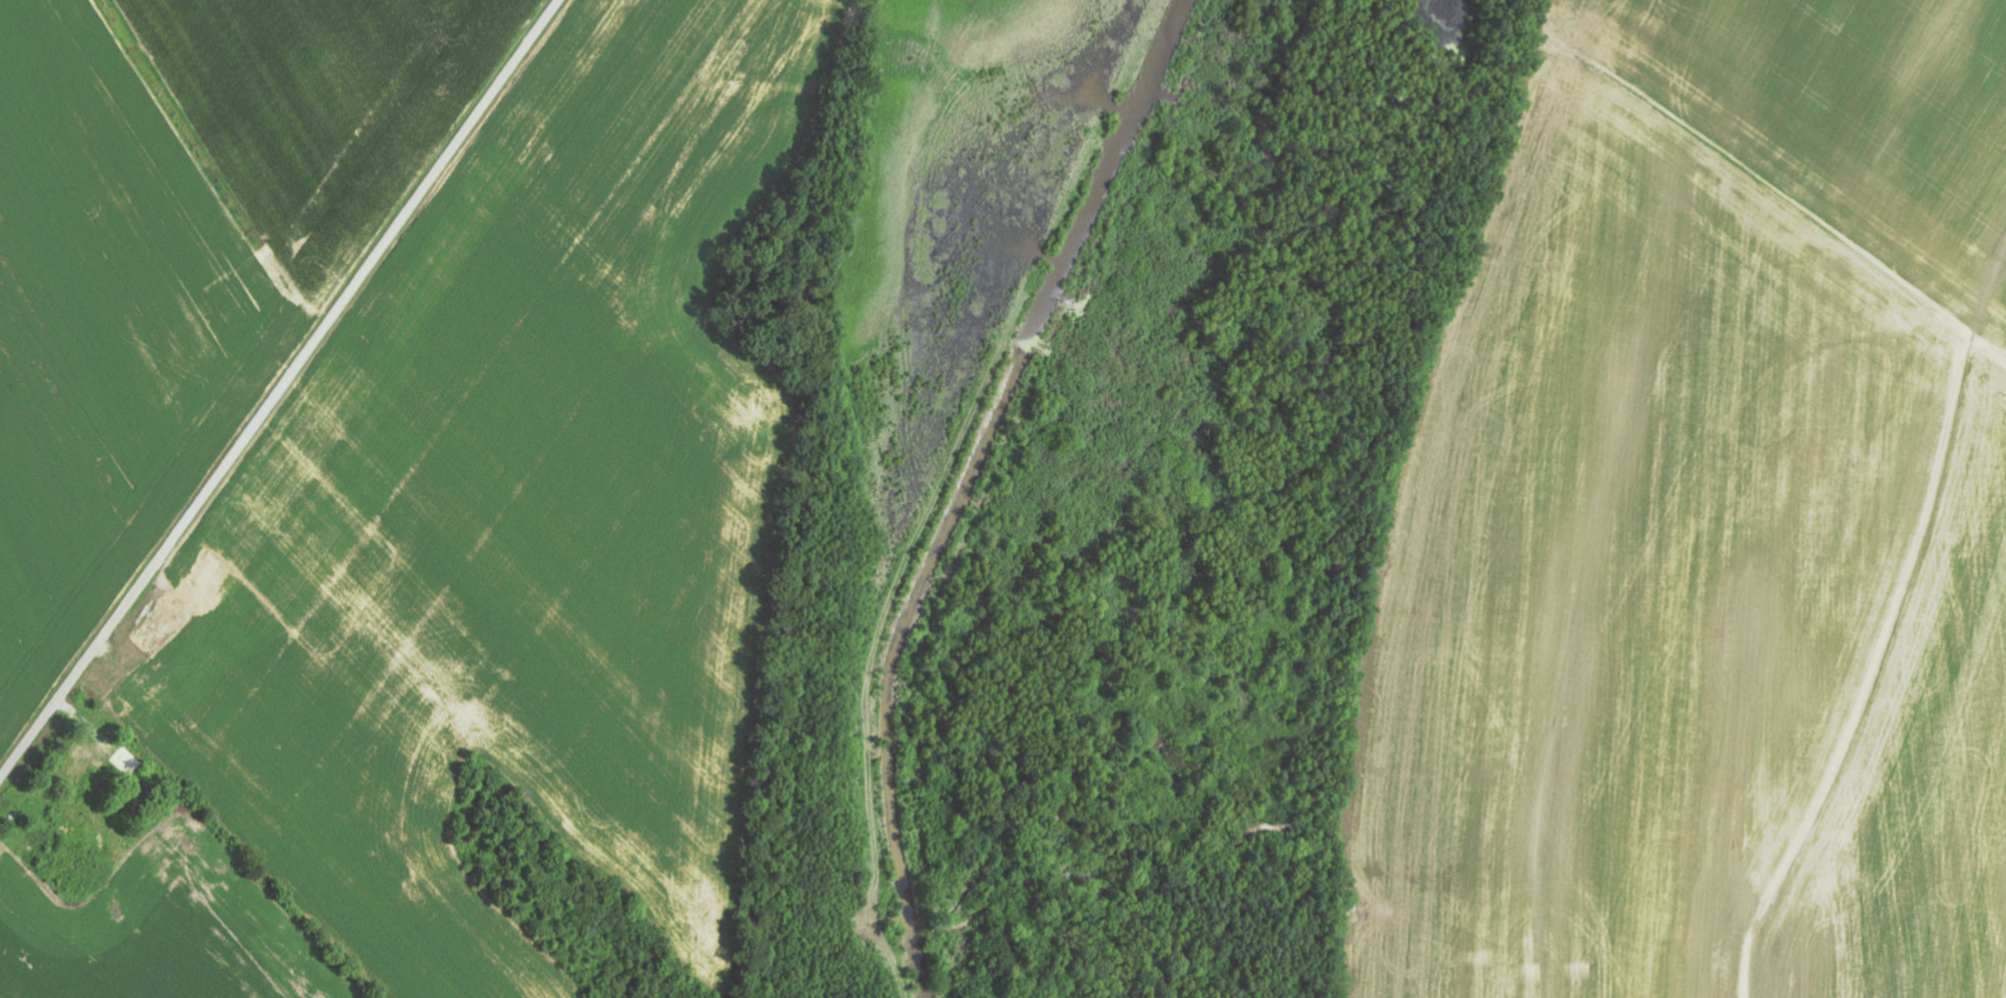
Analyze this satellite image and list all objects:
road: (281, 390)
building: (86, 761)

